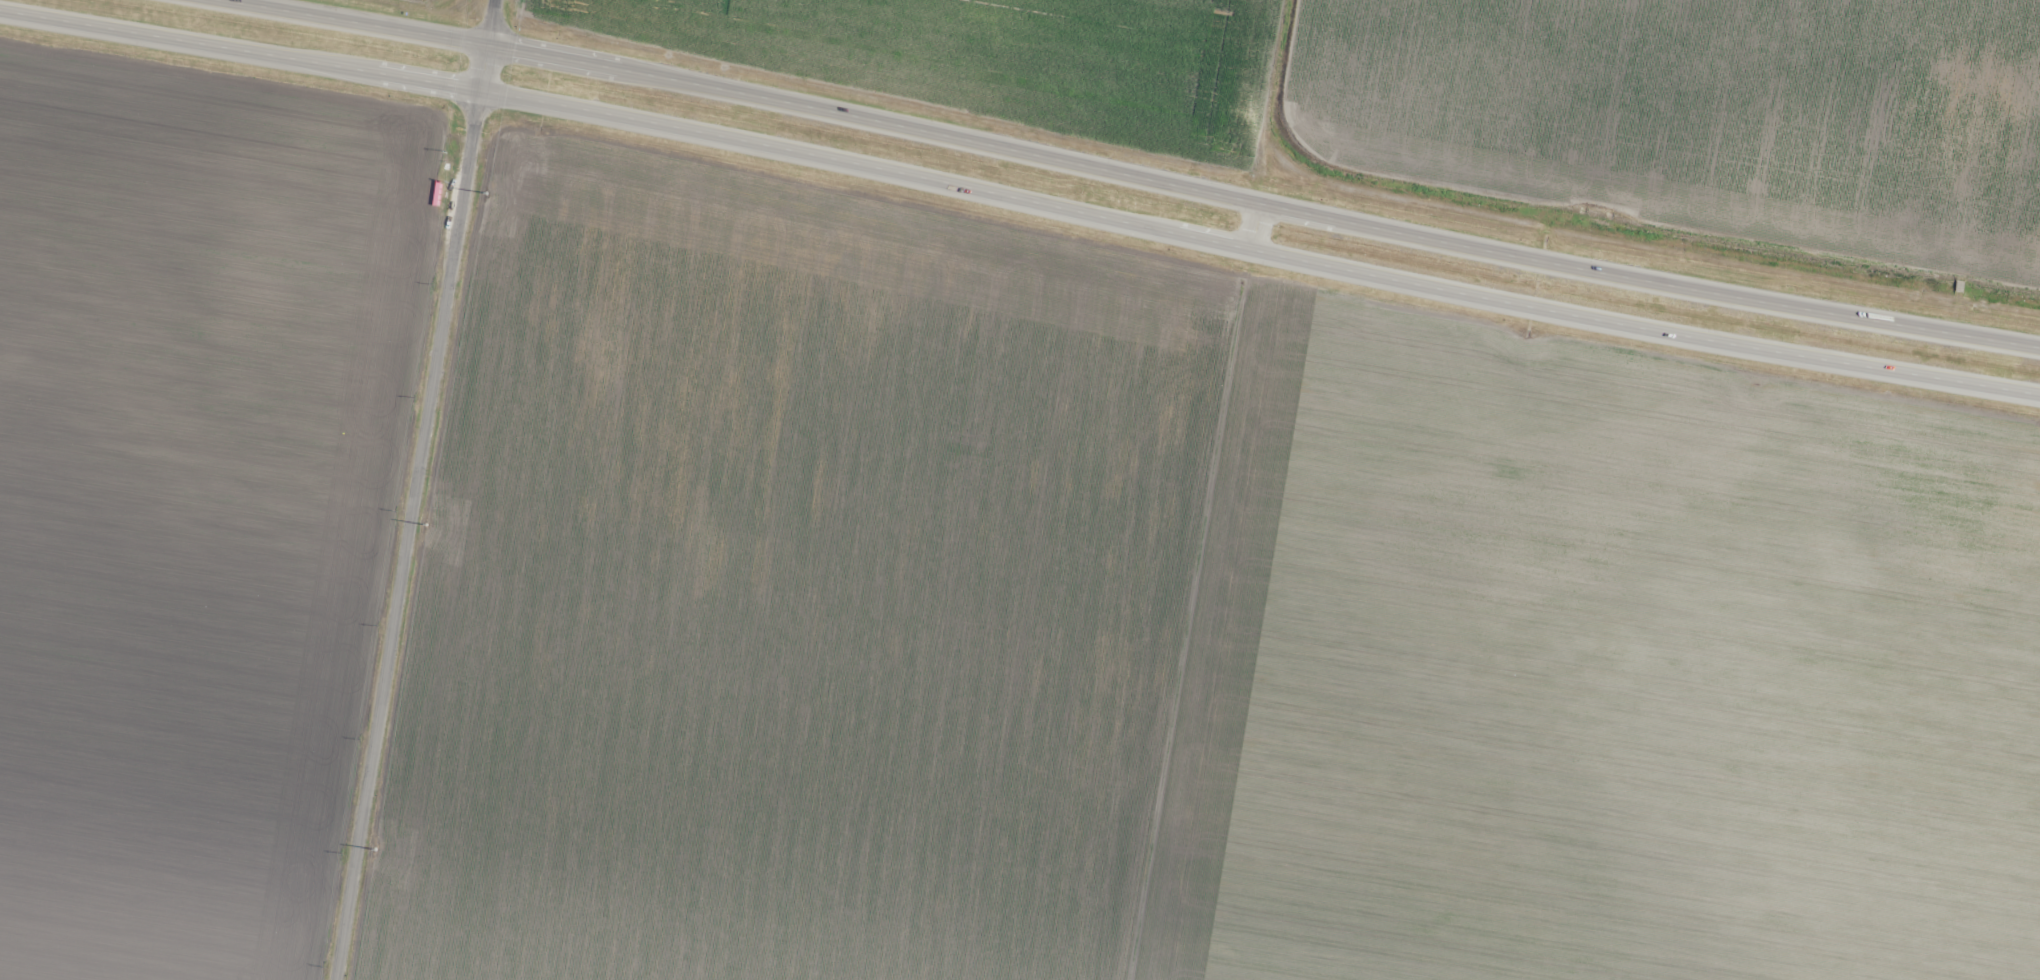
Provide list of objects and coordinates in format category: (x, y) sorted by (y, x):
road: (1131, 174)
road: (1020, 198)
power tower: (482, 203)
road: (1253, 225)
road: (416, 489)
power tower: (424, 531)
crop: (1178, 617)
power tower: (371, 854)

